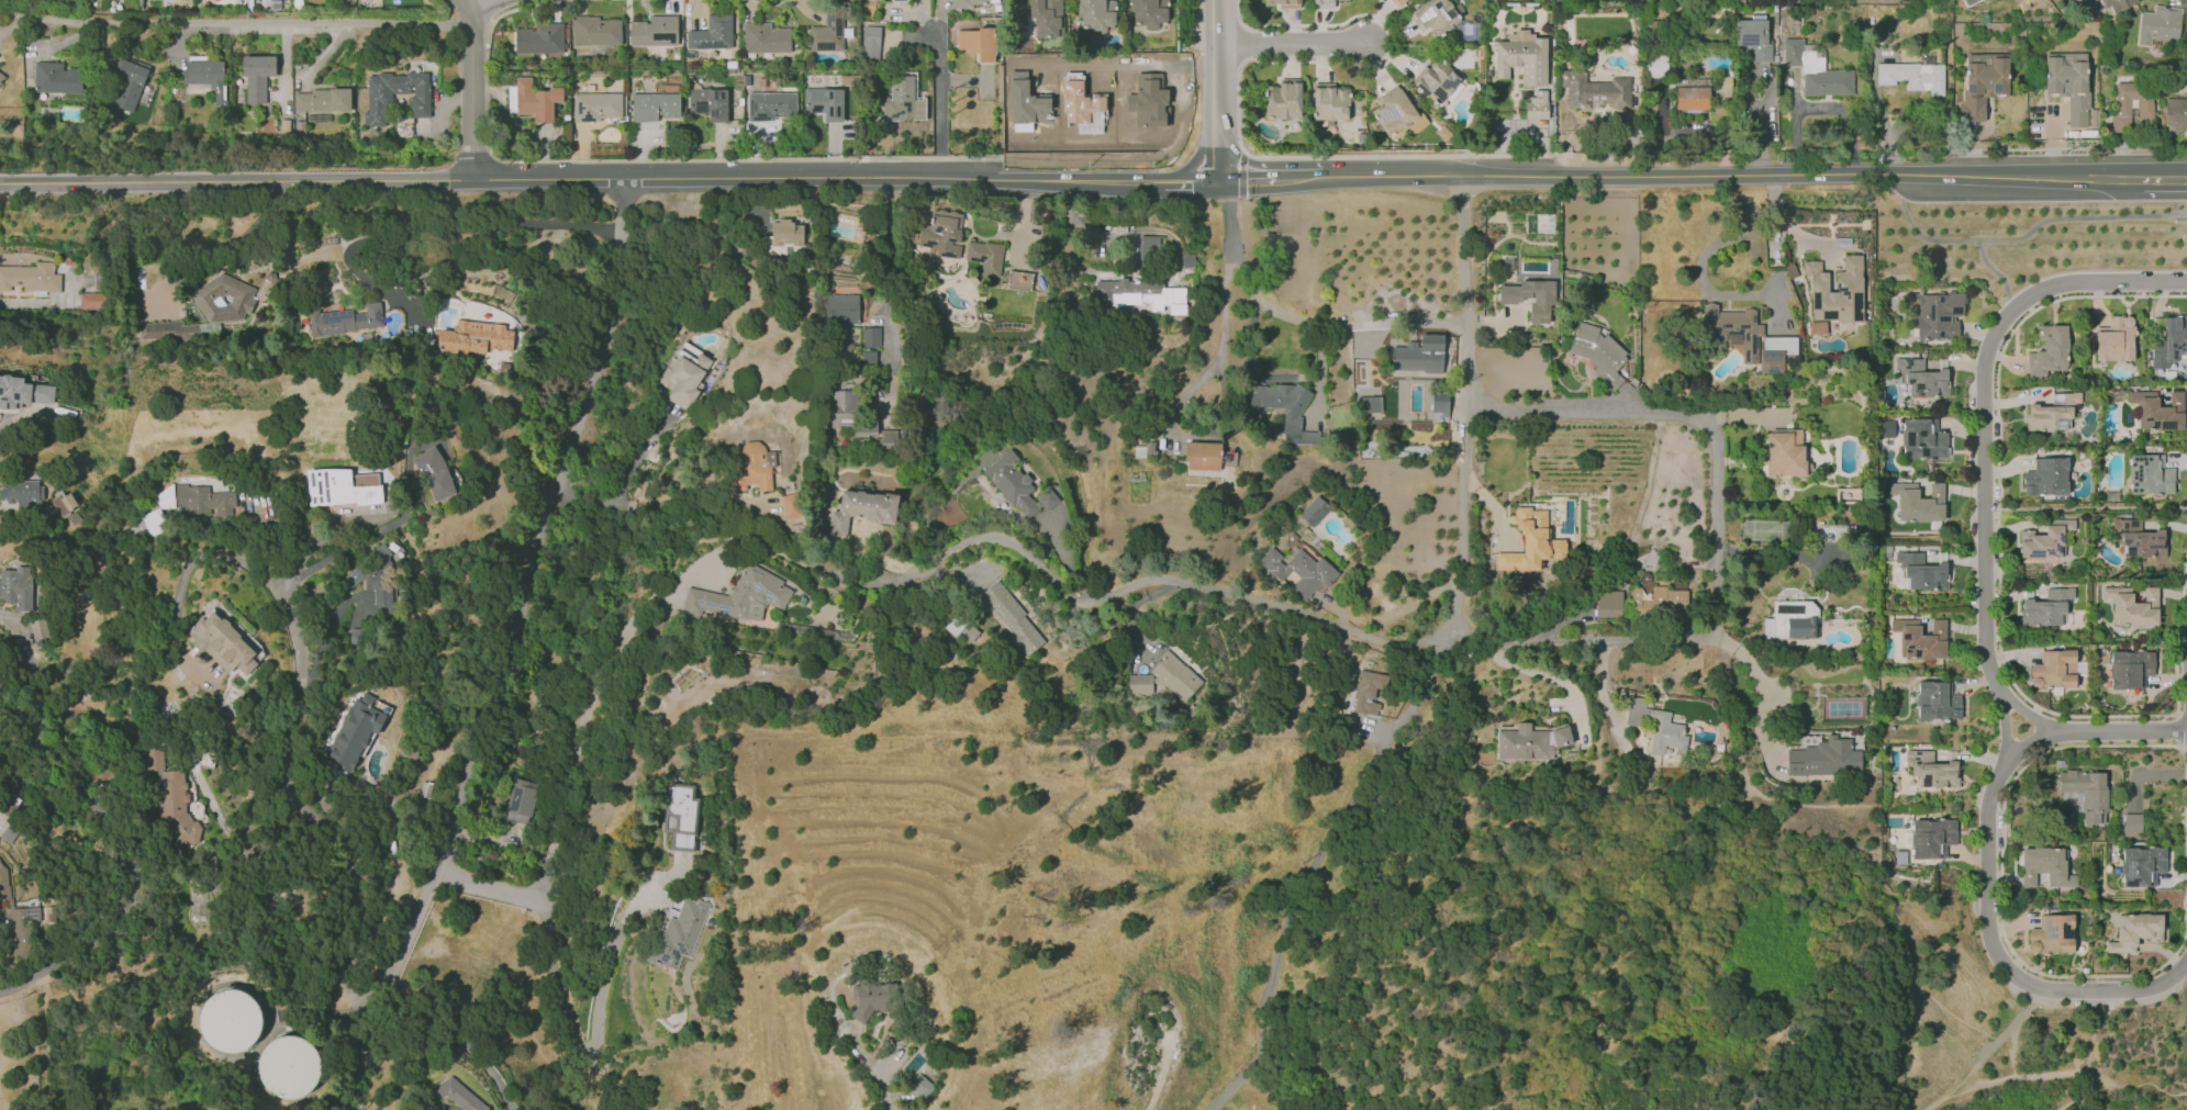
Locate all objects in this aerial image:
road: (443, 1)
road: (769, 1)
building: (970, 2)
building: (1284, 2)
building: (1398, 2)
building: (1970, 2)
building: (107, 3)
building: (298, 3)
road: (492, 3)
road: (529, 3)
building: (1323, 3)
building: (2118, 3)
road: (491, 8)
building: (1148, 12)
building: (1095, 14)
building: (1437, 15)
building: (1046, 16)
road: (1210, 22)
road: (234, 23)
building: (2158, 23)
building: (594, 30)
building: (652, 31)
building: (830, 32)
building: (711, 33)
building: (765, 37)
building: (539, 38)
building: (1753, 38)
building: (978, 43)
building: (871, 44)
road: (1286, 44)
building: (1521, 57)
building: (1655, 66)
building: (1815, 69)
building: (207, 75)
building: (258, 76)
building: (1911, 76)
building: (1, 77)
building: (57, 78)
building: (1436, 80)
building: (130, 82)
building: (1982, 82)
road: (1212, 83)
building: (1722, 86)
building: (2069, 86)
road: (471, 88)
building: (1595, 89)
building: (176, 93)
building: (1692, 93)
building: (903, 98)
building: (380, 99)
building: (1282, 99)
building: (324, 100)
building: (535, 100)
building: (1330, 101)
building: (824, 102)
building: (708, 103)
building: (1538, 104)
building: (599, 105)
building: (654, 105)
building: (770, 105)
building: (2122, 106)
road: (938, 108)
building: (1394, 111)
building: (2175, 114)
building: (317, 117)
building: (275, 122)
building: (286, 124)
building: (1487, 125)
building: (301, 127)
road: (1212, 152)
road: (665, 158)
road: (1193, 161)
road: (1248, 164)
road: (1721, 175)
road: (2165, 178)
road: (1242, 179)
road: (577, 180)
road: (1183, 180)
traffic signals: (1212, 180)
road: (1287, 180)
road: (2078, 218)
road: (1065, 223)
road: (560, 225)
building: (941, 233)
building: (784, 239)
road: (1965, 242)
road: (1714, 245)
building: (1149, 248)
road: (888, 250)
building: (985, 256)
building: (1187, 261)
building: (31, 277)
building: (1837, 291)
building: (1528, 292)
building: (1140, 295)
road: (1773, 295)
building: (223, 299)
building: (91, 301)
building: (841, 309)
building: (1939, 314)
road: (1297, 318)
building: (344, 319)
building: (168, 330)
building: (871, 337)
building: (1745, 337)
building: (473, 338)
building: (2115, 338)
building: (2169, 341)
road: (1224, 350)
building: (2049, 351)
building: (1599, 352)
building: (1420, 355)
building: (868, 359)
building: (684, 377)
building: (1922, 378)
building: (23, 391)
building: (1439, 403)
building: (1369, 404)
building: (1284, 407)
road: (1465, 407)
road: (1982, 410)
building: (2156, 411)
building: (2053, 413)
road: (20, 414)
building: (851, 416)
building: (886, 439)
building: (1923, 439)
building: (1785, 452)
building: (1203, 456)
building: (755, 467)
building: (437, 473)
building: (2149, 474)
building: (2045, 476)
building: (1016, 485)
building: (339, 489)
building: (23, 493)
building: (165, 498)
building: (203, 498)
building: (63, 502)
building: (1919, 502)
building: (791, 505)
building: (863, 508)
building: (1314, 511)
building: (71, 516)
building: (154, 518)
building: (1835, 532)
building: (2138, 538)
road: (1716, 539)
building: (2045, 539)
building: (1531, 541)
road: (1776, 551)
road: (331, 556)
building: (1921, 571)
building: (1299, 572)
building: (350, 578)
building: (379, 579)
building: (11, 584)
road: (655, 586)
road: (1122, 591)
building: (739, 596)
building: (1608, 604)
building: (1659, 604)
road: (174, 606)
building: (2132, 606)
building: (2046, 608)
building: (1008, 616)
building: (1803, 627)
building: (1920, 639)
building: (223, 642)
building: (2130, 669)
building: (2053, 670)
building: (1164, 680)
road: (1759, 686)
building: (1368, 692)
building: (1938, 700)
road: (2029, 713)
road: (2005, 726)
building: (1659, 728)
building: (355, 730)
building: (1530, 741)
building: (154, 758)
building: (1826, 758)
building: (1930, 767)
road: (2141, 774)
building: (425, 788)
building: (2086, 793)
parking lot: (1978, 795)
building: (522, 797)
building: (175, 805)
building: (681, 815)
building: (2134, 822)
building: (8, 833)
building: (1931, 836)
road: (120, 855)
road: (440, 859)
building: (2142, 864)
building: (2045, 866)
road: (1315, 867)
road: (1987, 867)
building: (2157, 877)
building: (19, 908)
road: (1, 918)
building: (2134, 931)
building: (677, 932)
building: (2052, 934)
parking lot: (2157, 994)
parking lot: (2031, 996)
building: (871, 997)
parking lot: (2096, 1001)
building: (232, 1019)
storage tank: (232, 1019)
road: (570, 1022)
road: (457, 1035)
road: (41, 1041)
road: (1987, 1054)
building: (289, 1065)
storage tank: (289, 1065)
road: (871, 1066)
road: (2053, 1073)
building: (920, 1083)
building: (453, 1094)

